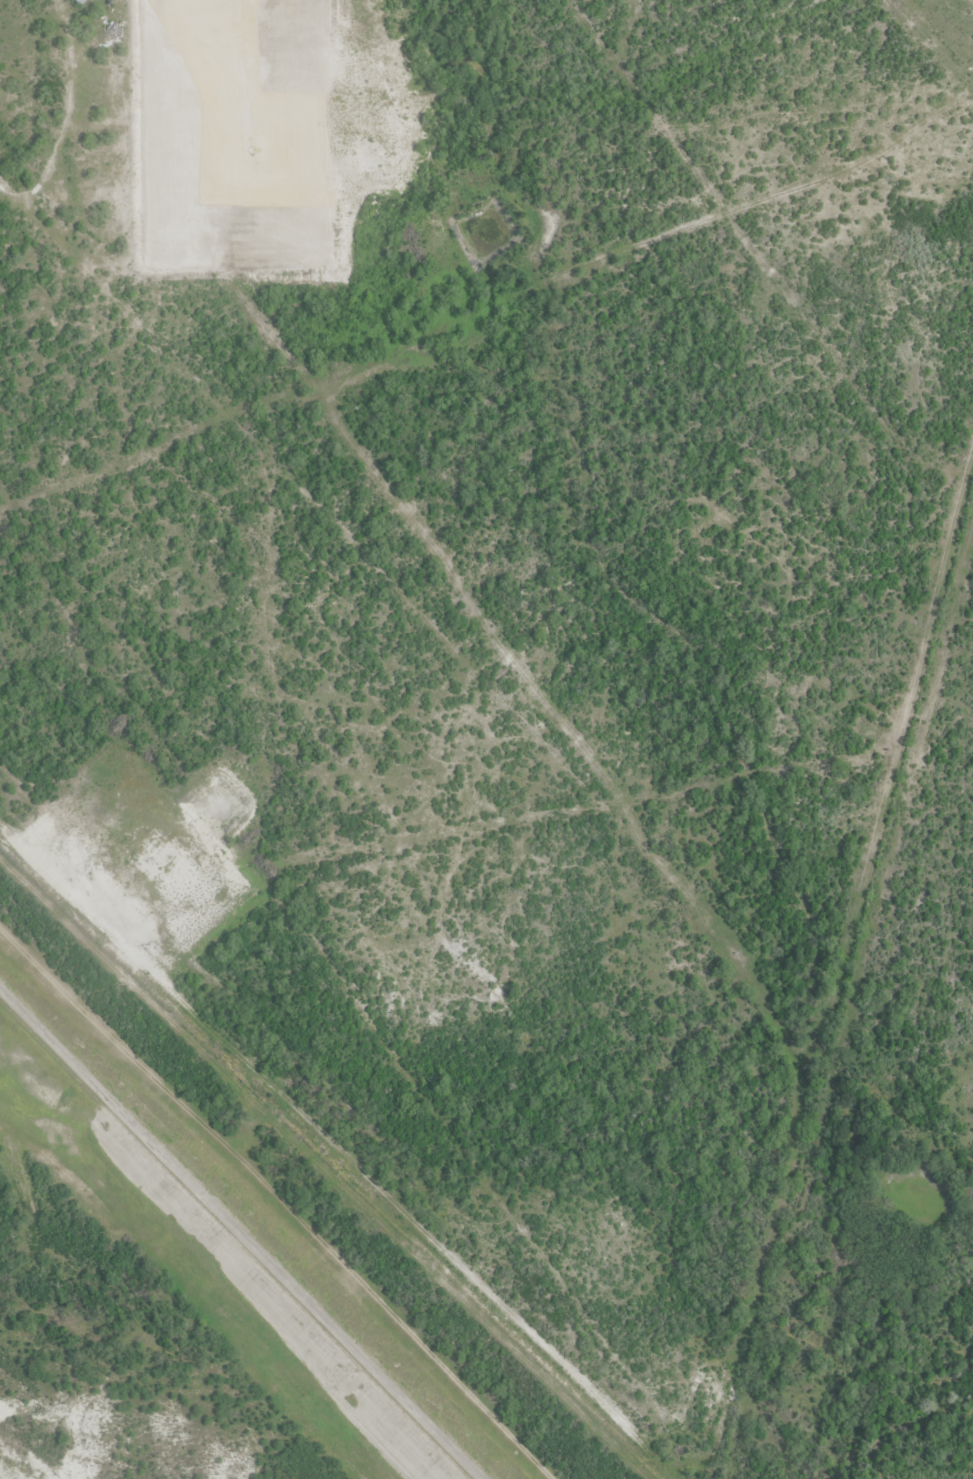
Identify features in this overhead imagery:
building: (84, 2)
building: (111, 35)
building: (118, 96)
road: (241, 1233)

